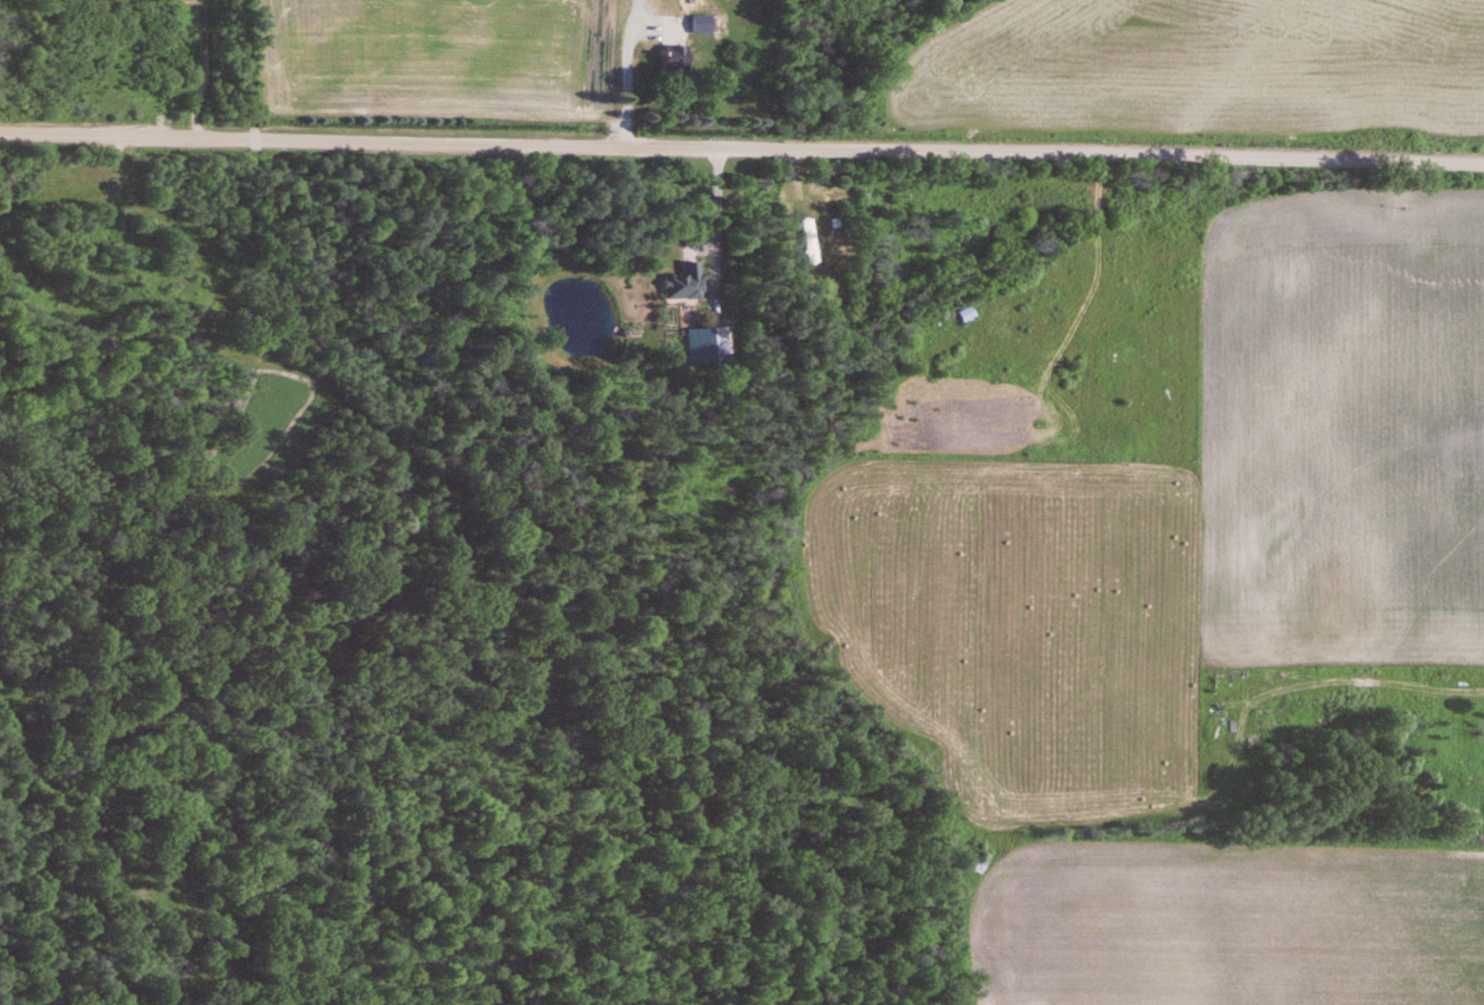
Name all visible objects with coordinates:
building: (703, 25)
building: (677, 59)
road: (622, 73)
road: (742, 151)
road: (710, 227)
building: (684, 284)
building: (707, 347)

